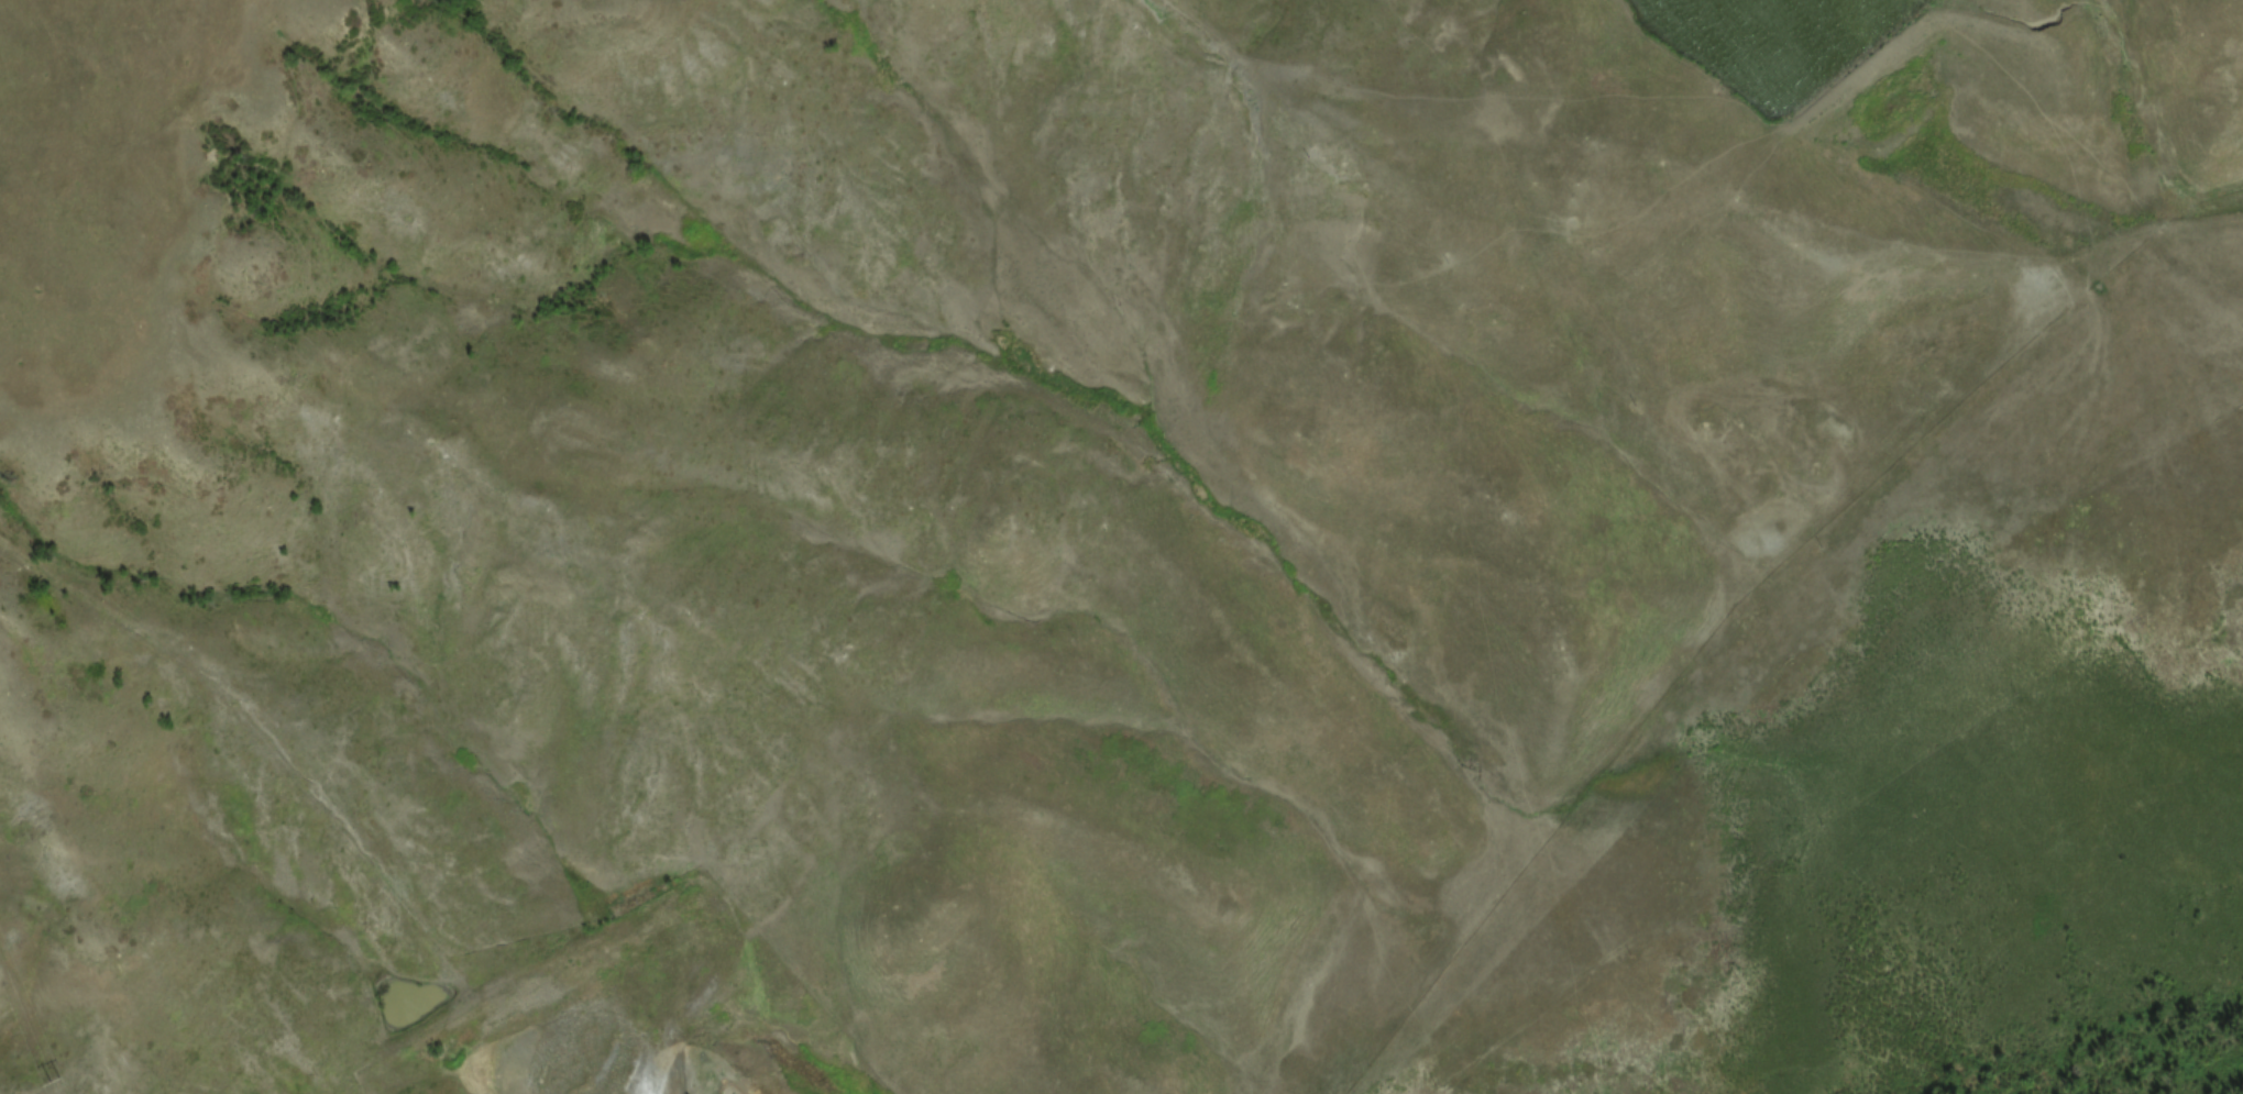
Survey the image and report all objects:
power tower: (56, 1083)

